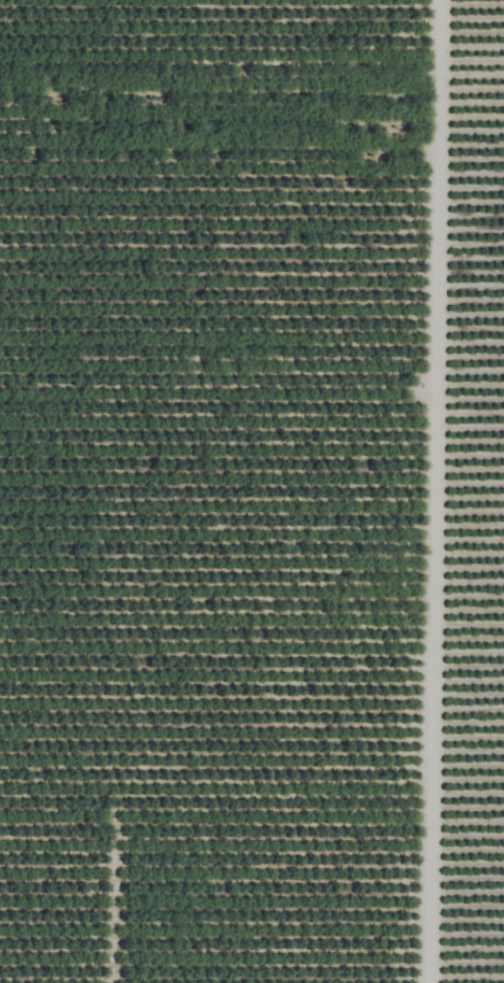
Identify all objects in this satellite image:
road: (430, 491)

